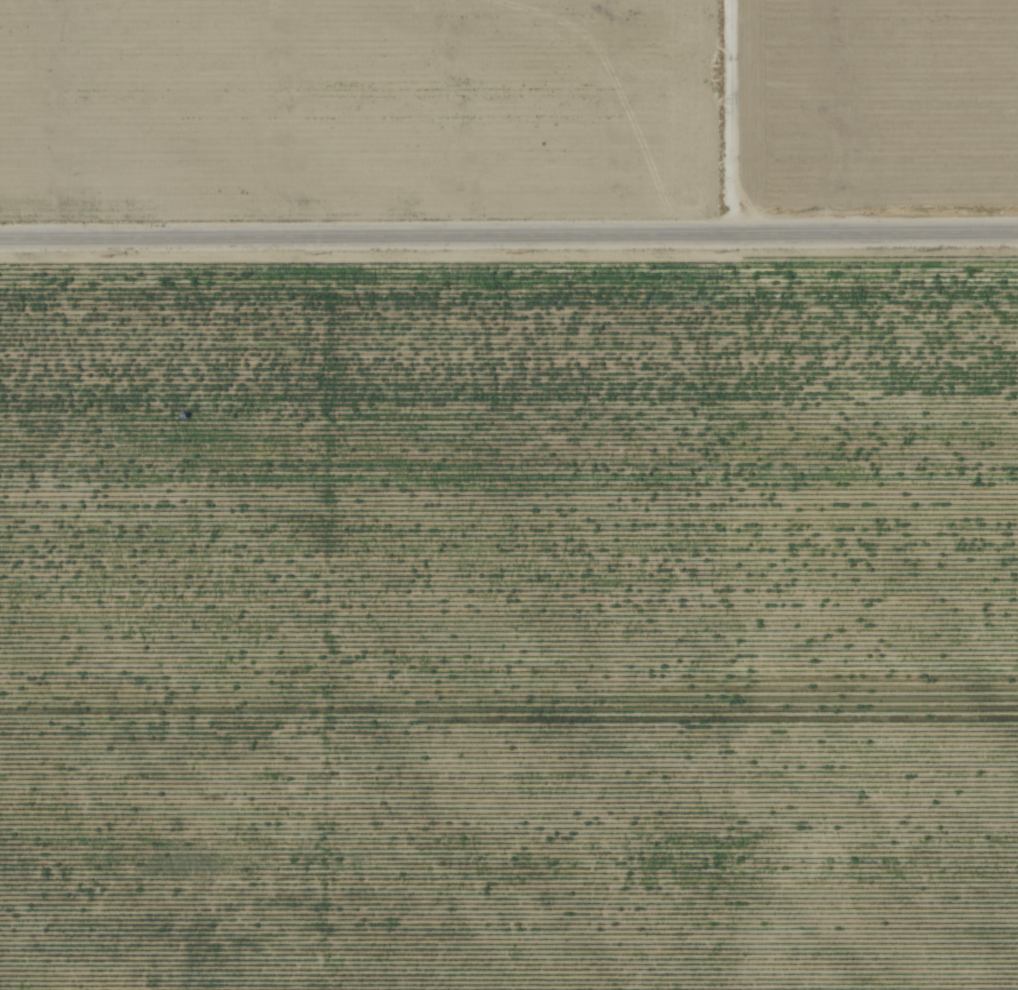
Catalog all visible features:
road: (726, 117)
road: (509, 236)

